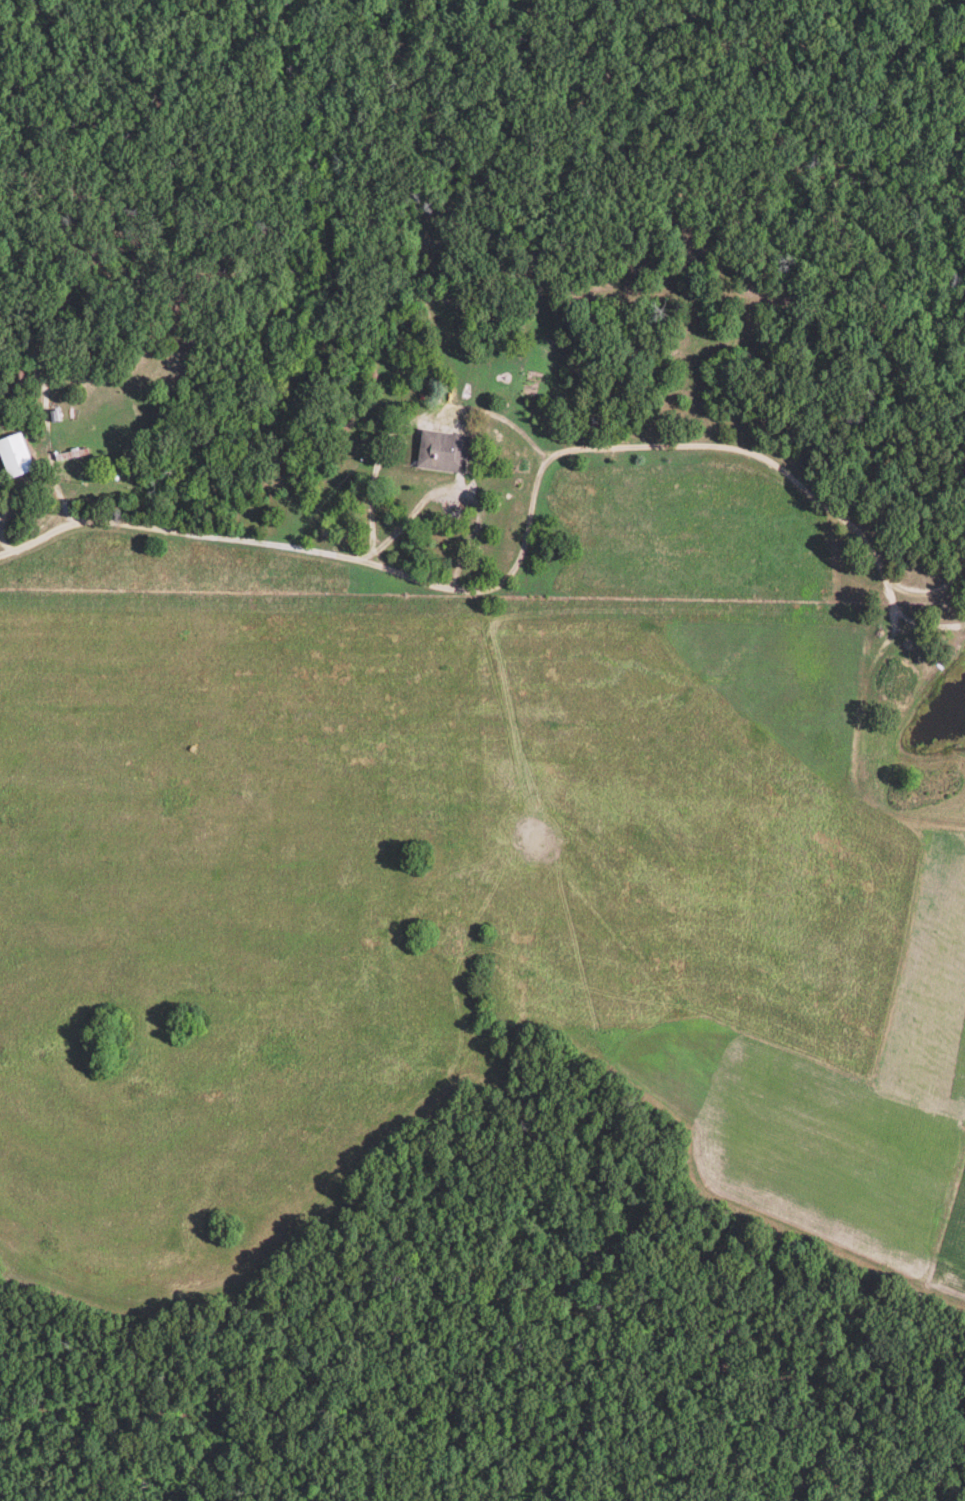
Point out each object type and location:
building: (19, 454)
road: (457, 489)
road: (528, 535)

